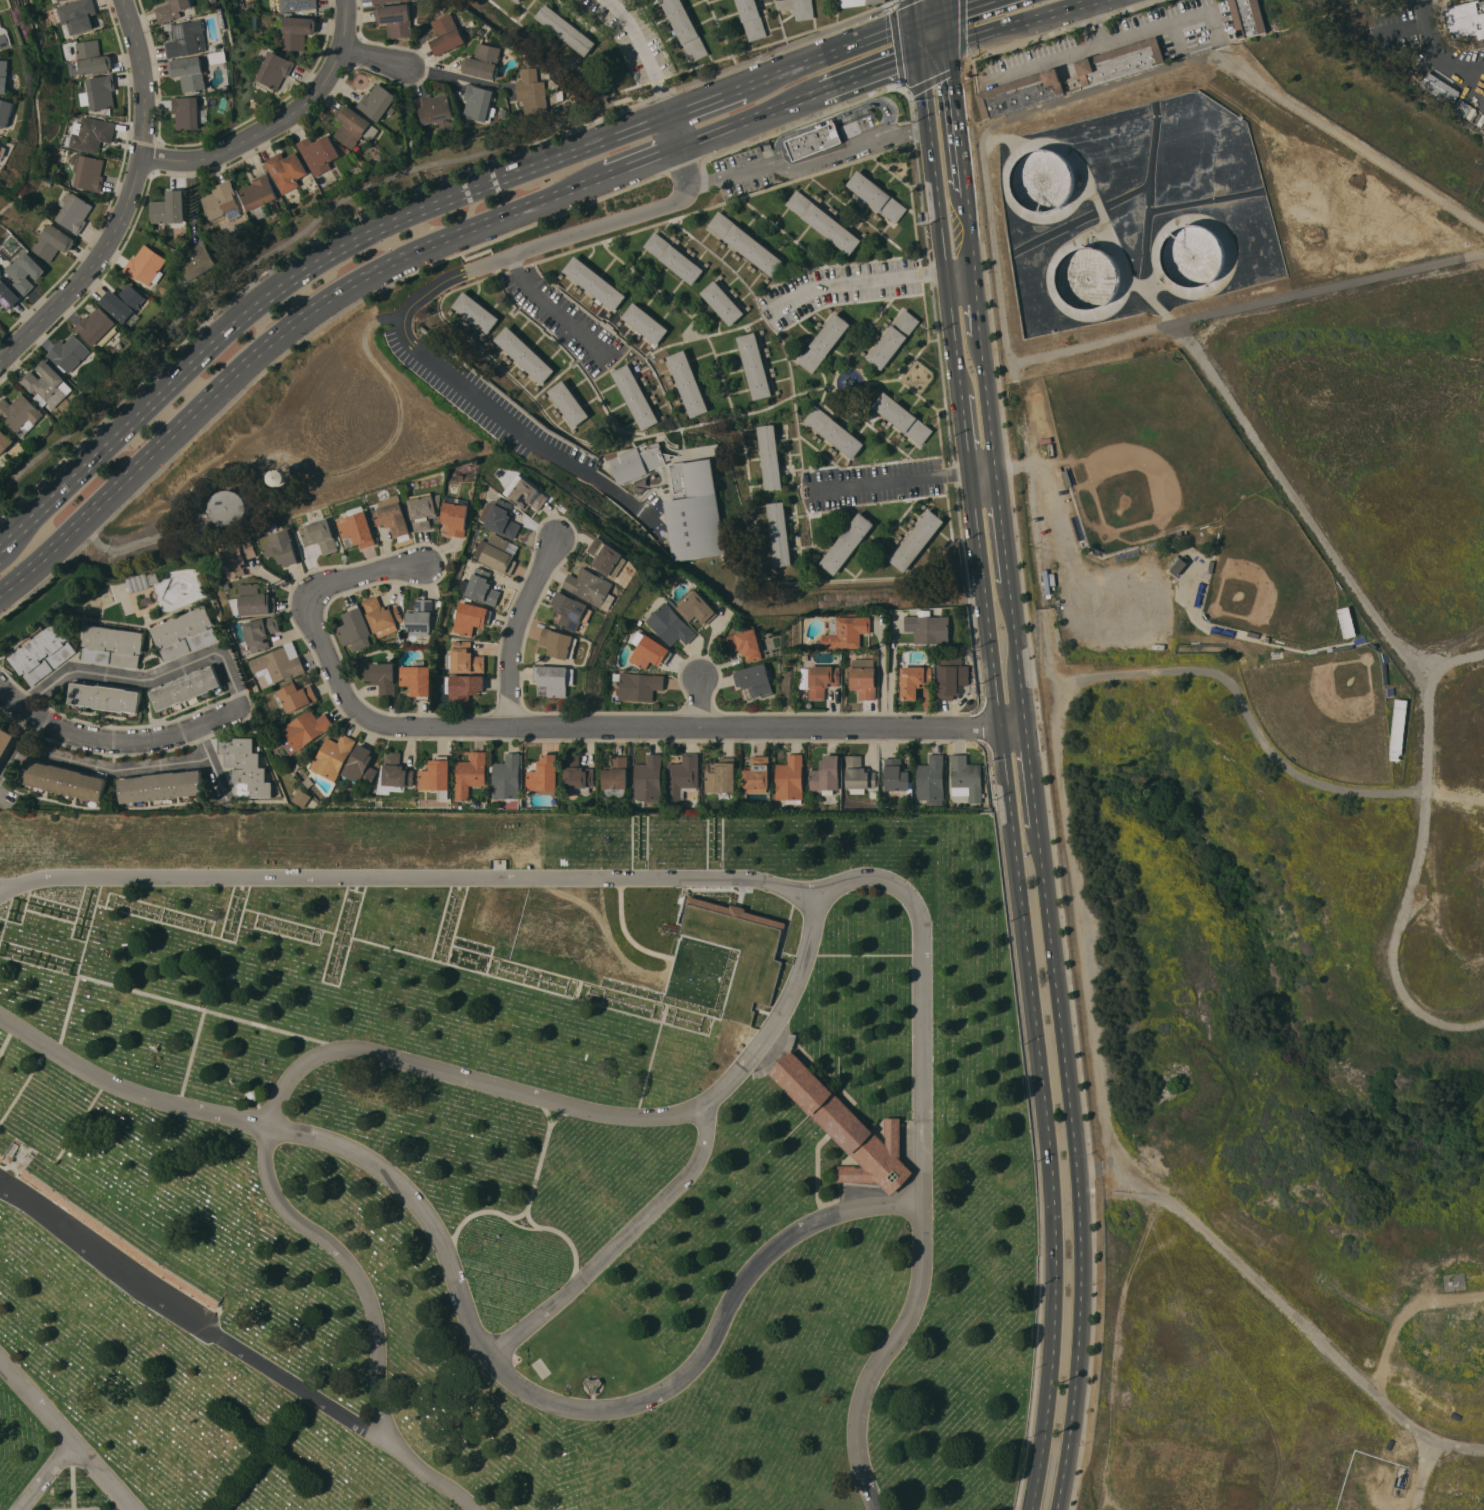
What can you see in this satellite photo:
building: (60, 0)
building: (517, 0)
building: (377, 1)
building: (858, 2)
building: (297, 4)
road: (942, 6)
road: (964, 6)
building: (798, 8)
building: (172, 10)
road: (915, 11)
traffic signals: (943, 12)
building: (78, 15)
road: (930, 17)
building: (1247, 17)
building: (396, 19)
building: (751, 19)
building: (1467, 21)
traffic signals: (917, 22)
road: (1021, 23)
building: (685, 28)
building: (565, 29)
road: (944, 29)
road: (1142, 30)
building: (297, 31)
building: (447, 34)
building: (5, 36)
parking lot: (632, 37)
building: (188, 38)
road: (918, 39)
road: (1221, 44)
traffic signals: (946, 46)
road: (933, 51)
road: (646, 53)
road: (1435, 54)
road: (829, 56)
traffic signals: (920, 56)
building: (92, 57)
road: (374, 57)
building: (484, 61)
road: (1046, 61)
building: (1120, 62)
building: (275, 70)
building: (191, 73)
road: (871, 73)
road: (454, 75)
building: (5, 76)
road: (1135, 77)
building: (1437, 88)
building: (100, 92)
building: (532, 92)
building: (1019, 93)
building: (378, 102)
building: (478, 103)
road: (706, 103)
building: (435, 109)
building: (1465, 109)
building: (7, 111)
building: (187, 112)
road: (846, 113)
road: (752, 118)
road: (278, 119)
road: (956, 120)
building: (353, 126)
road: (676, 131)
building: (91, 134)
building: (814, 141)
building: (1, 148)
building: (319, 153)
road: (644, 160)
road: (805, 166)
building: (286, 170)
parking lot: (742, 170)
building: (88, 171)
road: (683, 171)
storage tank: (1043, 179)
building: (259, 195)
building: (876, 195)
road: (127, 199)
building: (222, 201)
building: (169, 208)
building: (74, 212)
building: (824, 222)
road: (940, 226)
road: (970, 233)
building: (53, 242)
building: (745, 243)
storage tank: (1193, 254)
building: (674, 257)
building: (198, 261)
building: (1088, 264)
building: (145, 266)
building: (25, 272)
road: (298, 278)
storage tank: (1088, 278)
road: (873, 281)
building: (594, 282)
parking lot: (839, 287)
building: (8, 294)
building: (123, 302)
building: (723, 302)
road: (1245, 304)
road: (977, 305)
road: (553, 310)
building: (476, 312)
parking lot: (564, 320)
road: (399, 322)
building: (646, 323)
building: (95, 325)
building: (893, 339)
road: (274, 340)
building: (824, 342)
building: (68, 354)
building: (524, 354)
building: (754, 365)
building: (688, 383)
building: (47, 385)
building: (635, 396)
building: (568, 403)
road: (986, 405)
building: (19, 414)
building: (903, 417)
building: (834, 432)
road: (966, 436)
building: (5, 441)
park: (1147, 449)
building: (770, 456)
building: (638, 462)
building: (282, 477)
water tower: (284, 477)
road: (905, 482)
parking lot: (875, 484)
building: (526, 493)
storage tank: (231, 507)
building: (230, 508)
building: (425, 509)
building: (695, 511)
building: (457, 515)
building: (393, 518)
building: (500, 518)
road: (1002, 525)
road: (1314, 525)
building: (356, 529)
building: (779, 534)
building: (319, 535)
building: (917, 540)
road: (1059, 541)
building: (847, 543)
building: (280, 547)
building: (496, 553)
building: (608, 557)
building: (238, 559)
building: (1177, 565)
park: (1269, 575)
building: (142, 581)
road: (347, 581)
parking lot: (1091, 583)
building: (480, 587)
building: (592, 587)
building: (253, 601)
building: (697, 608)
building: (572, 611)
building: (382, 616)
building: (470, 617)
building: (420, 618)
building: (670, 625)
road: (512, 627)
building: (355, 628)
building: (929, 629)
building: (184, 632)
building: (846, 632)
building: (261, 633)
building: (559, 643)
building: (746, 644)
building: (113, 645)
road: (1016, 651)
building: (650, 652)
building: (43, 654)
building: (465, 658)
building: (278, 663)
road: (1099, 673)
building: (952, 676)
building: (382, 677)
building: (864, 678)
road: (883, 678)
building: (555, 679)
building: (755, 679)
road: (891, 679)
building: (822, 680)
building: (417, 681)
building: (914, 681)
building: (639, 686)
road: (236, 687)
building: (187, 688)
building: (460, 689)
building: (106, 697)
building: (295, 697)
road: (11, 700)
road: (698, 702)
park: (1325, 712)
road: (643, 727)
building: (303, 732)
building: (5, 741)
road: (17, 752)
building: (333, 756)
road: (211, 762)
building: (361, 765)
building: (245, 767)
road: (113, 768)
building: (397, 771)
building: (470, 773)
building: (757, 774)
road: (1031, 774)
building: (544, 775)
building: (577, 775)
building: (826, 775)
building: (858, 775)
building: (437, 776)
building: (616, 776)
building: (722, 776)
building: (507, 777)
building: (682, 777)
building: (897, 777)
building: (966, 778)
building: (648, 779)
building: (790, 779)
building: (64, 780)
building: (931, 780)
building: (162, 786)
road: (1456, 797)
building: (302, 798)
road: (405, 876)
road: (1395, 937)
road: (1030, 992)
road: (587, 1109)
building: (843, 1123)
building: (9, 1153)
road: (922, 1156)
park: (513, 1165)
road: (1076, 1167)
building: (114, 1234)
road: (619, 1241)
road: (1266, 1294)
road: (465, 1314)
road: (373, 1317)
road: (192, 1319)
building: (593, 1384)
road: (66, 1435)
road: (1422, 1473)
road: (46, 1475)

